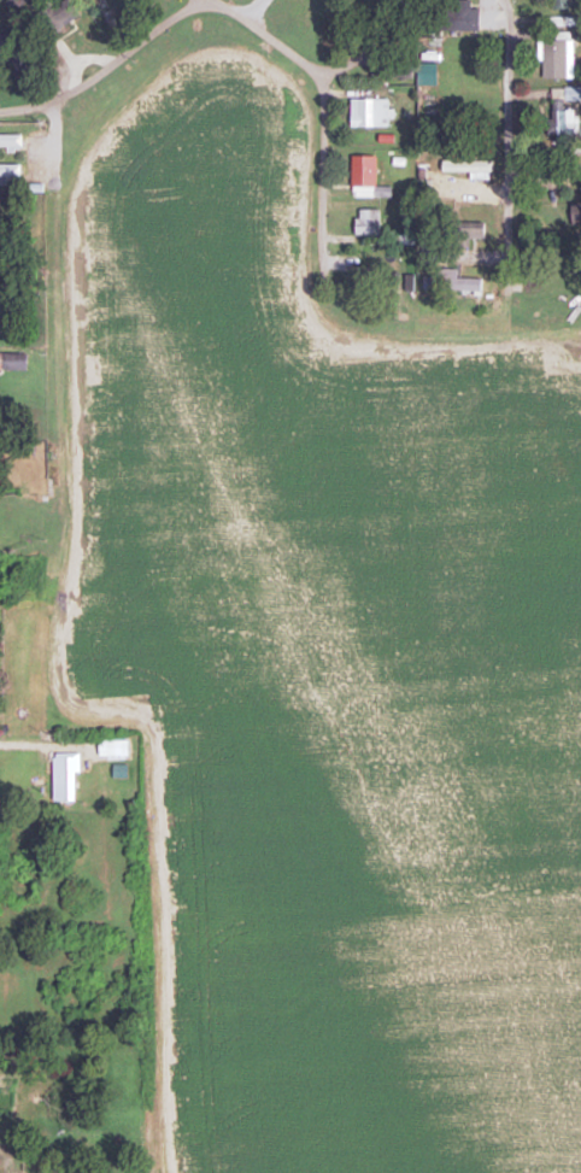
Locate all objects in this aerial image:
building: (567, 4)
building: (469, 17)
road: (268, 35)
road: (366, 46)
road: (122, 52)
building: (11, 54)
building: (556, 59)
road: (23, 106)
building: (458, 111)
building: (370, 113)
building: (567, 113)
road: (509, 123)
building: (470, 168)
building: (366, 178)
road: (323, 190)
building: (576, 212)
building: (368, 221)
building: (476, 230)
building: (14, 362)
road: (57, 410)
building: (69, 778)
road: (246, 933)

